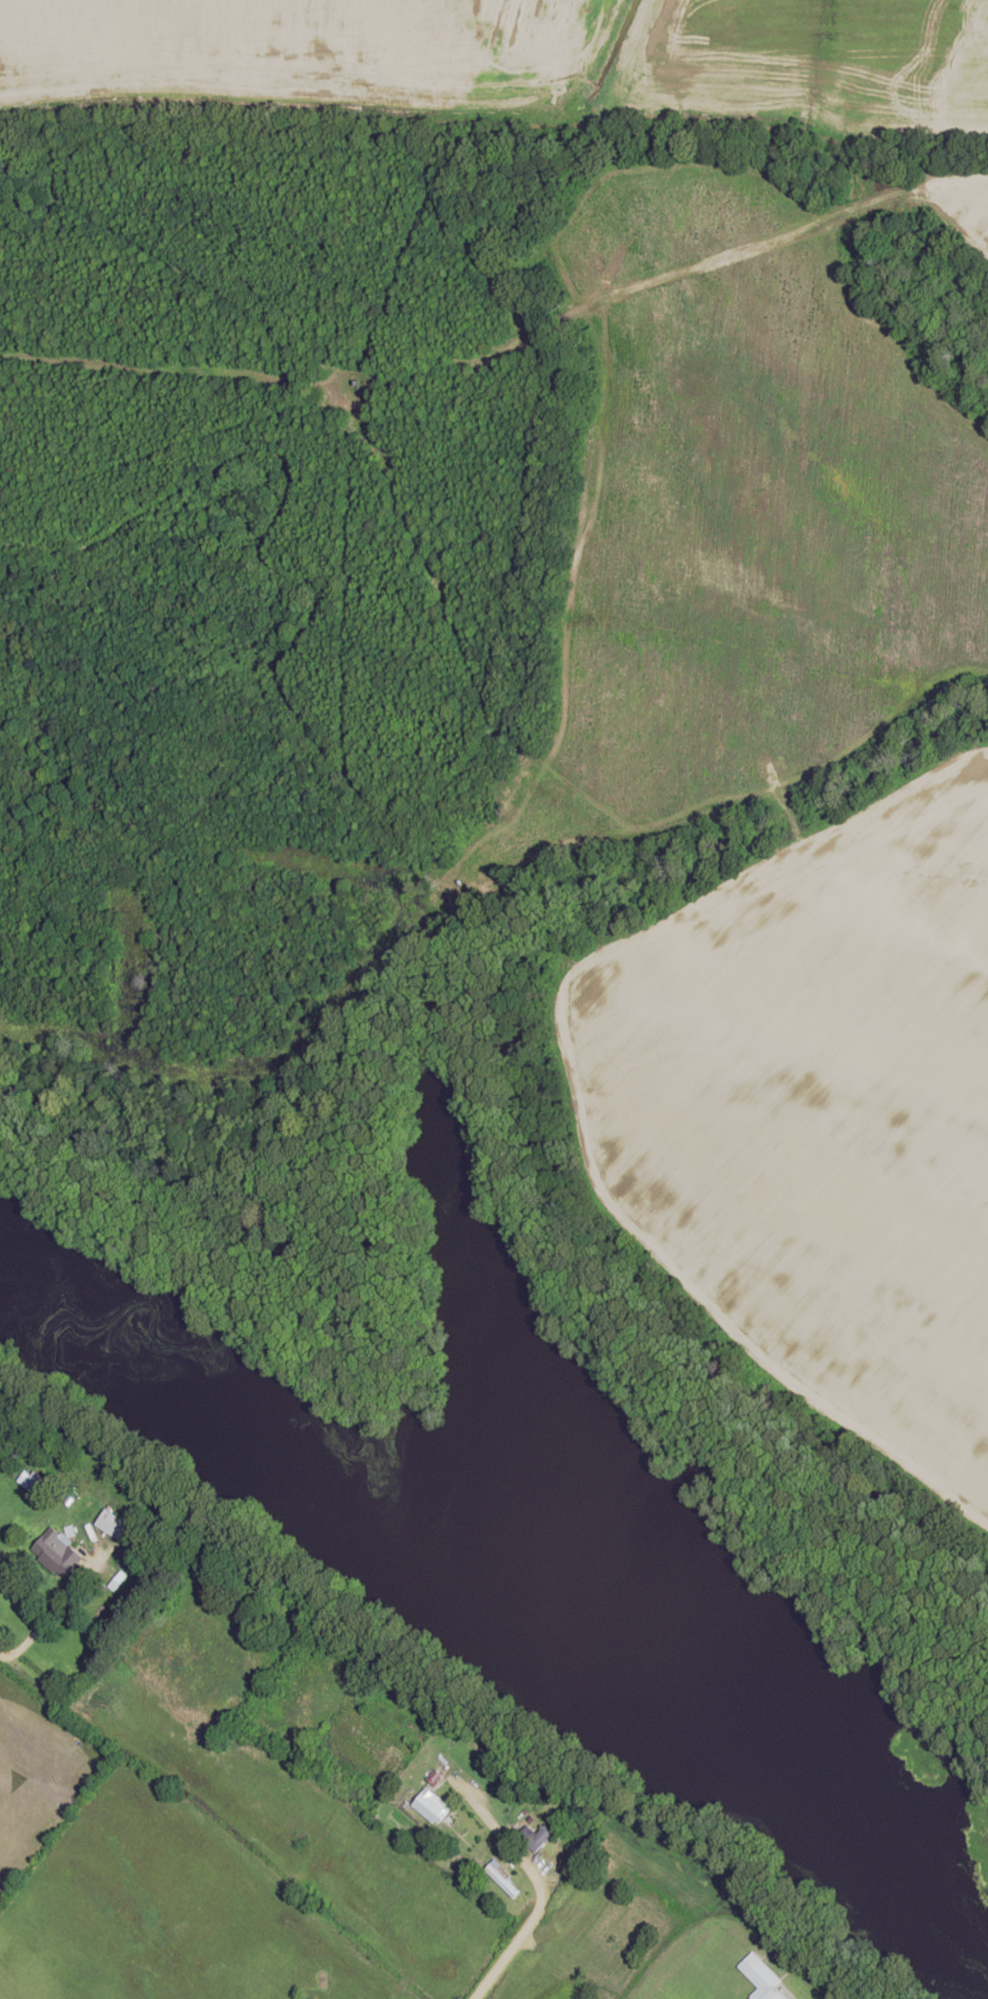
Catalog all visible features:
building: (119, 1527)
building: (58, 1552)
road: (48, 1613)
building: (432, 1806)
building: (537, 1836)
building: (502, 1877)
road: (537, 1895)
building: (763, 1978)

